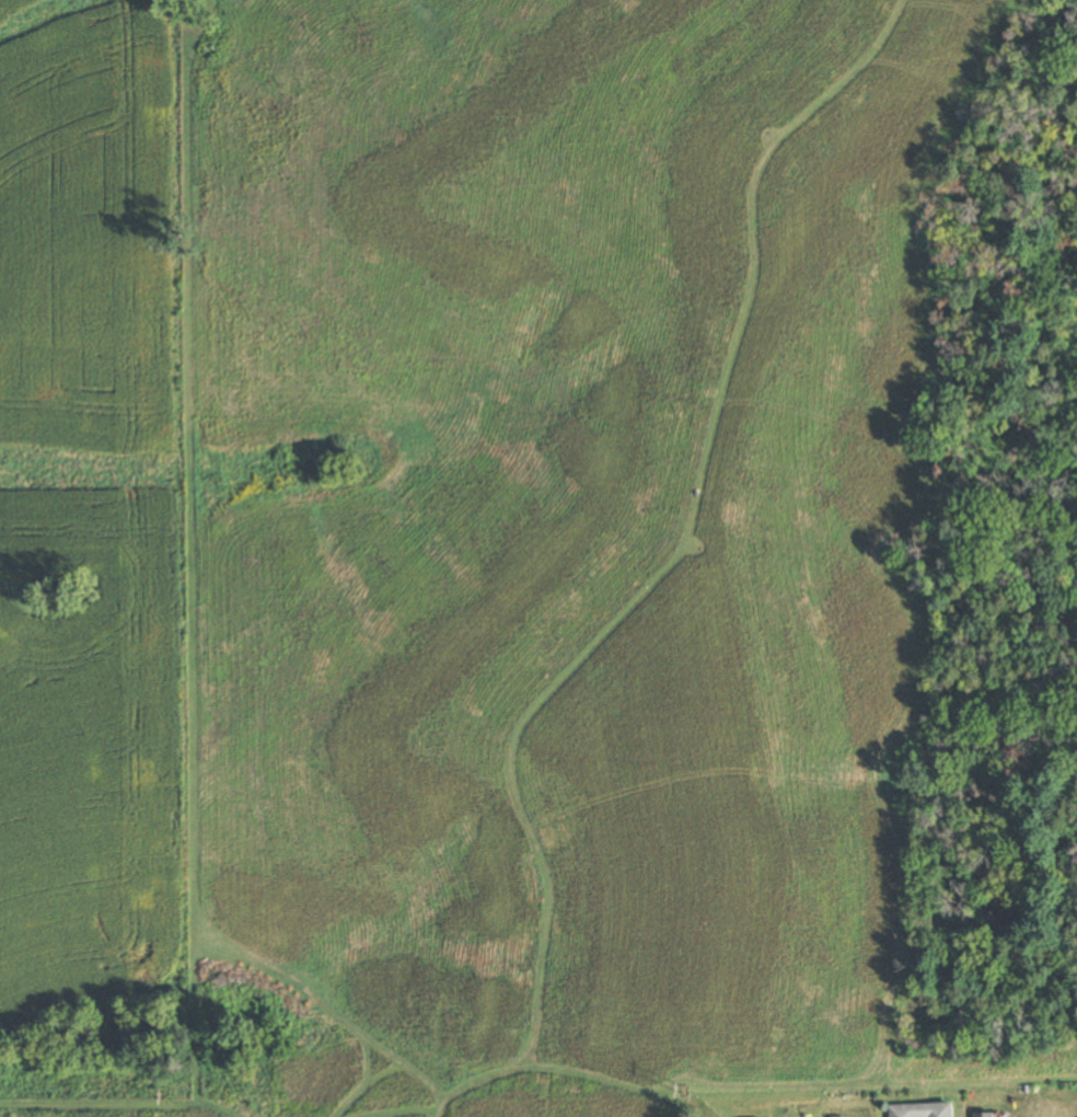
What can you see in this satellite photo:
crop: (88, 500)
building: (923, 1110)
building: (985, 1115)

